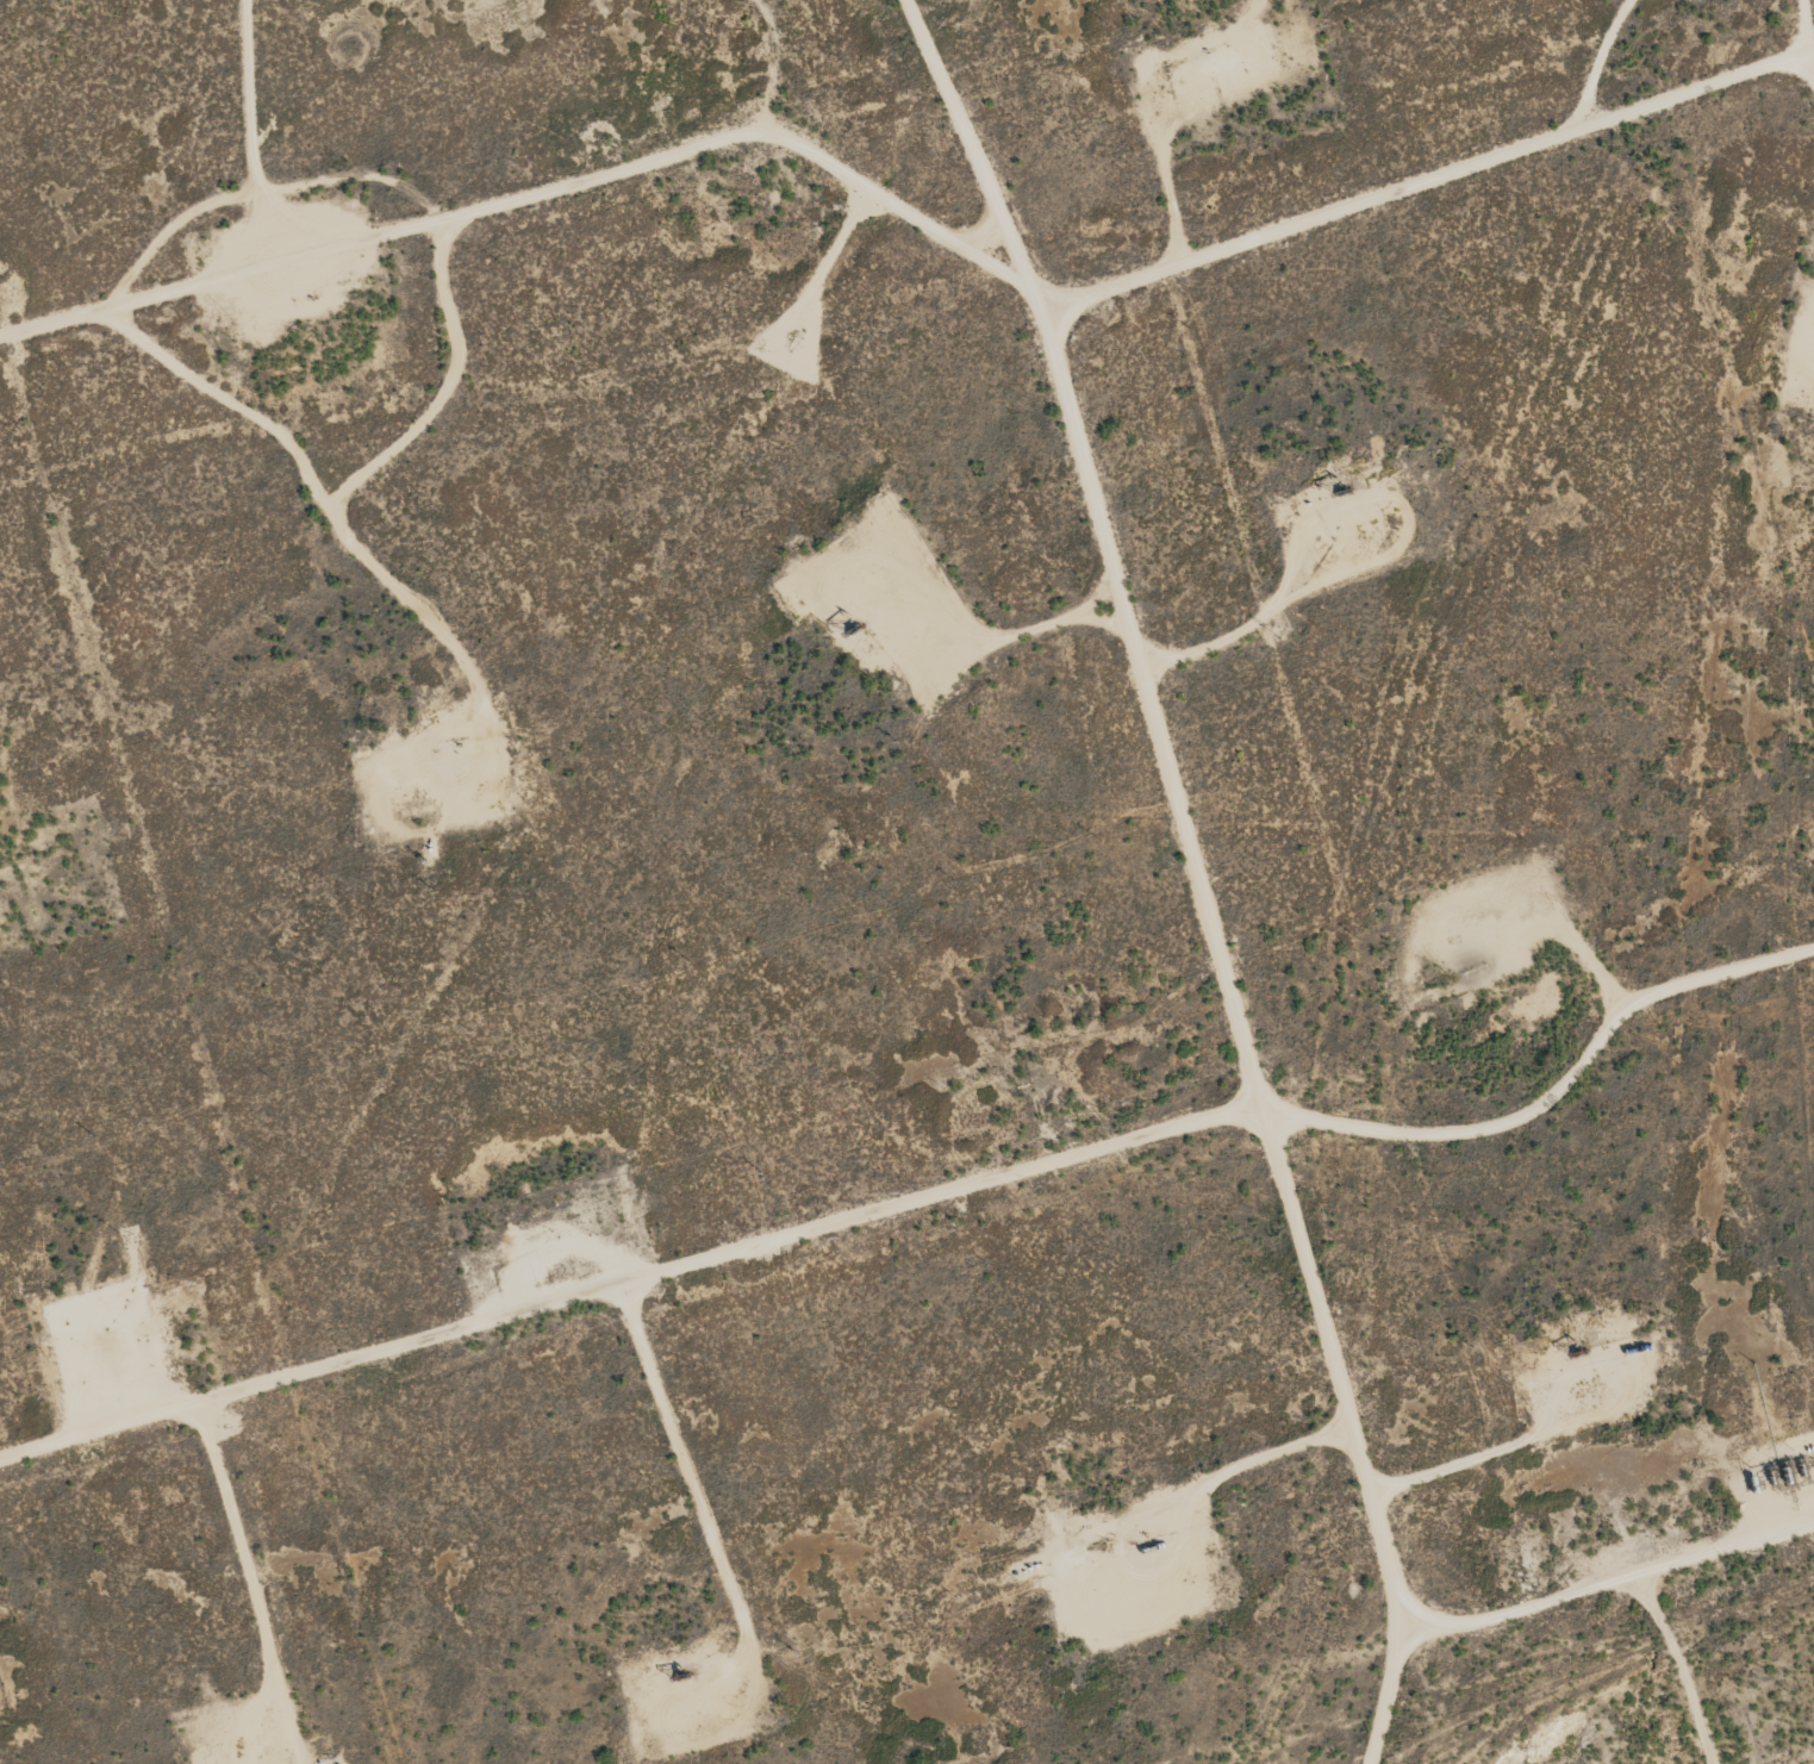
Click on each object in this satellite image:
road: (1808, 23)
road: (912, 213)
petroleum well: (1341, 485)
petroleum well: (846, 632)
road: (1178, 804)
road: (925, 1198)
petroleum well: (1575, 1351)
road: (1544, 1598)
petroleum well: (674, 1677)

